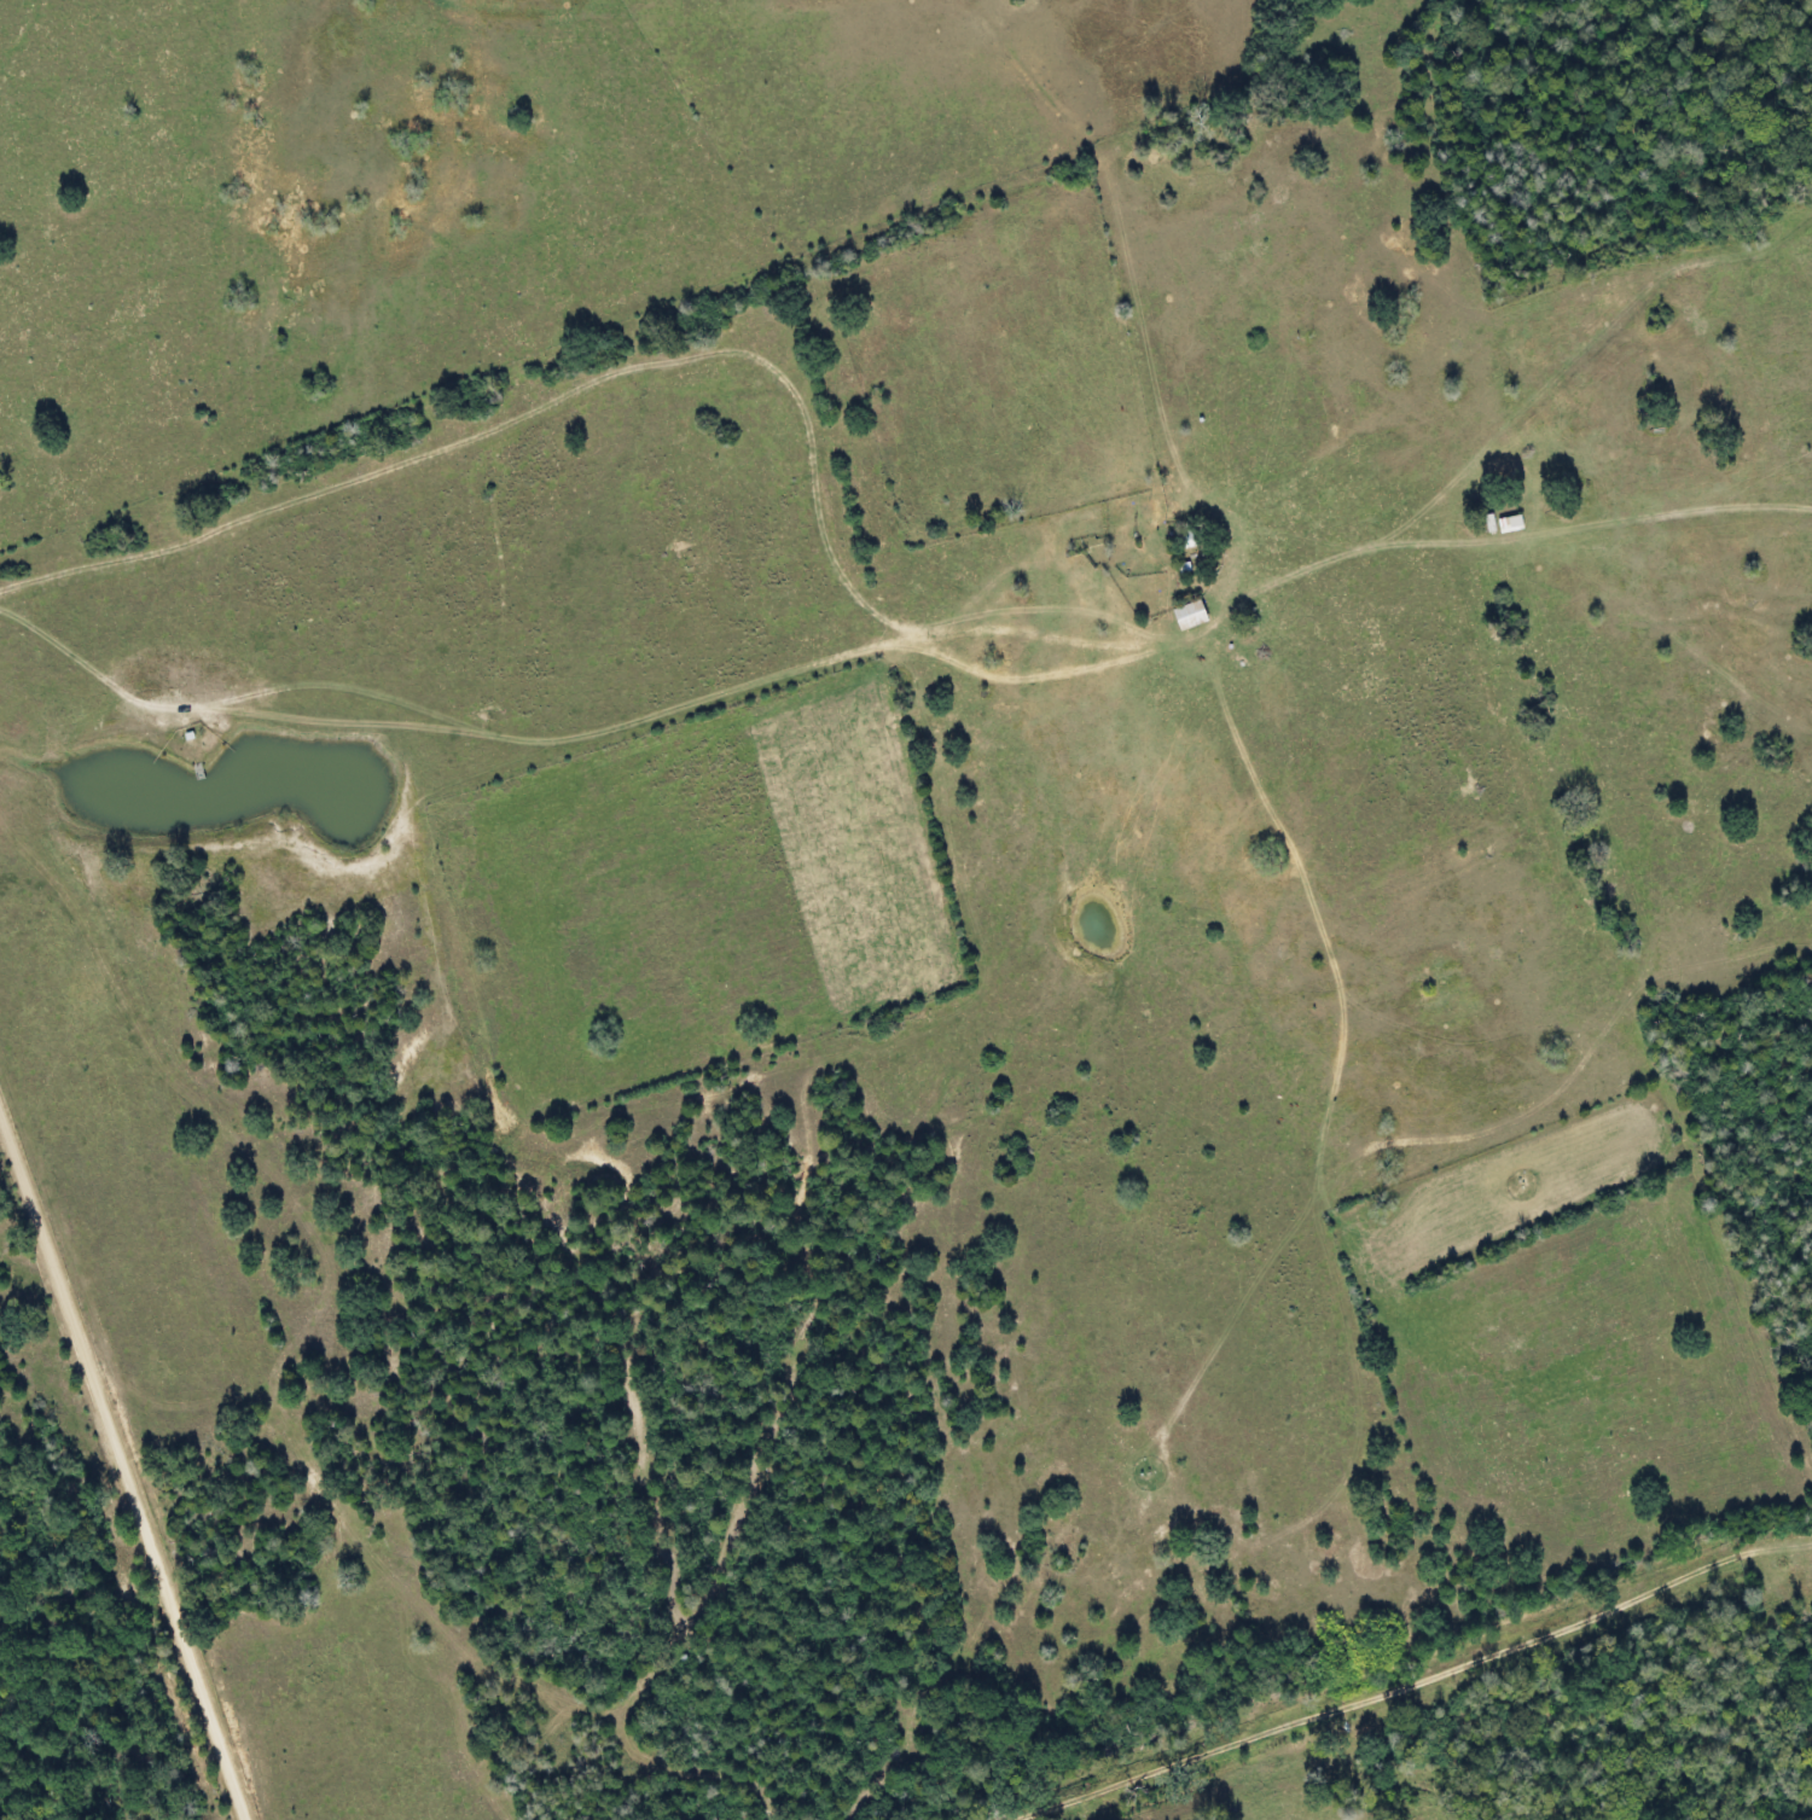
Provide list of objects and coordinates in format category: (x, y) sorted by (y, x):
building: (1510, 523)
building: (1187, 539)
building: (1190, 615)
road: (124, 1456)

